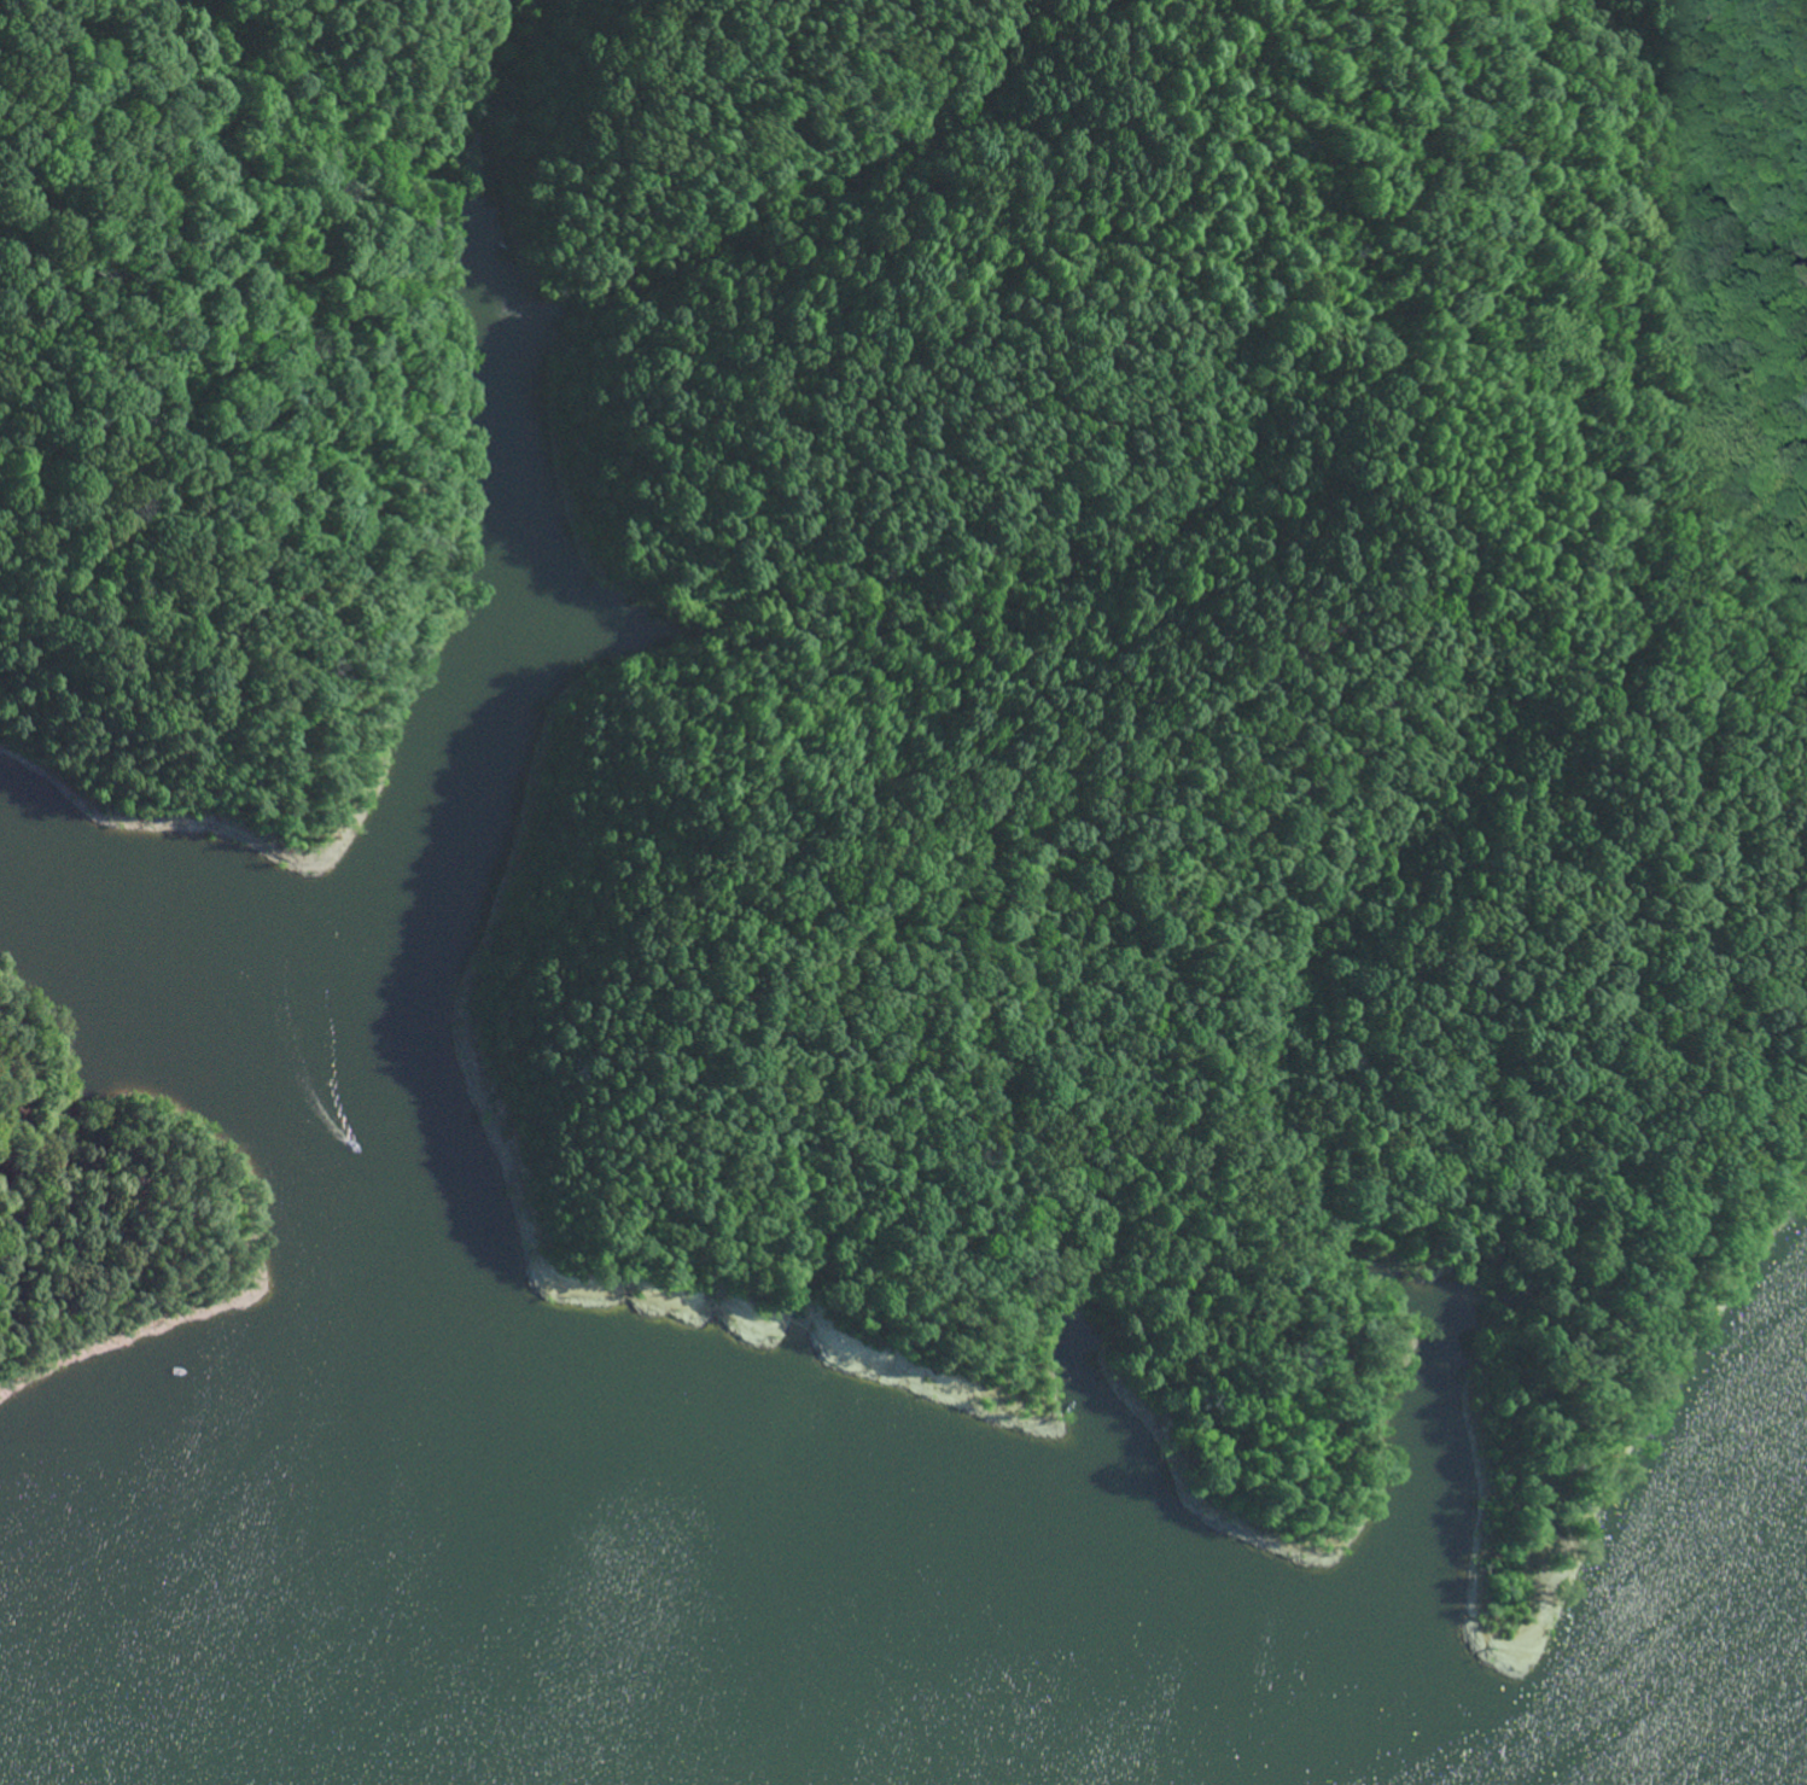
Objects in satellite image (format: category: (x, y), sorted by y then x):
road: (751, 105)
road: (810, 357)
park: (1010, 661)
park: (97, 1214)

